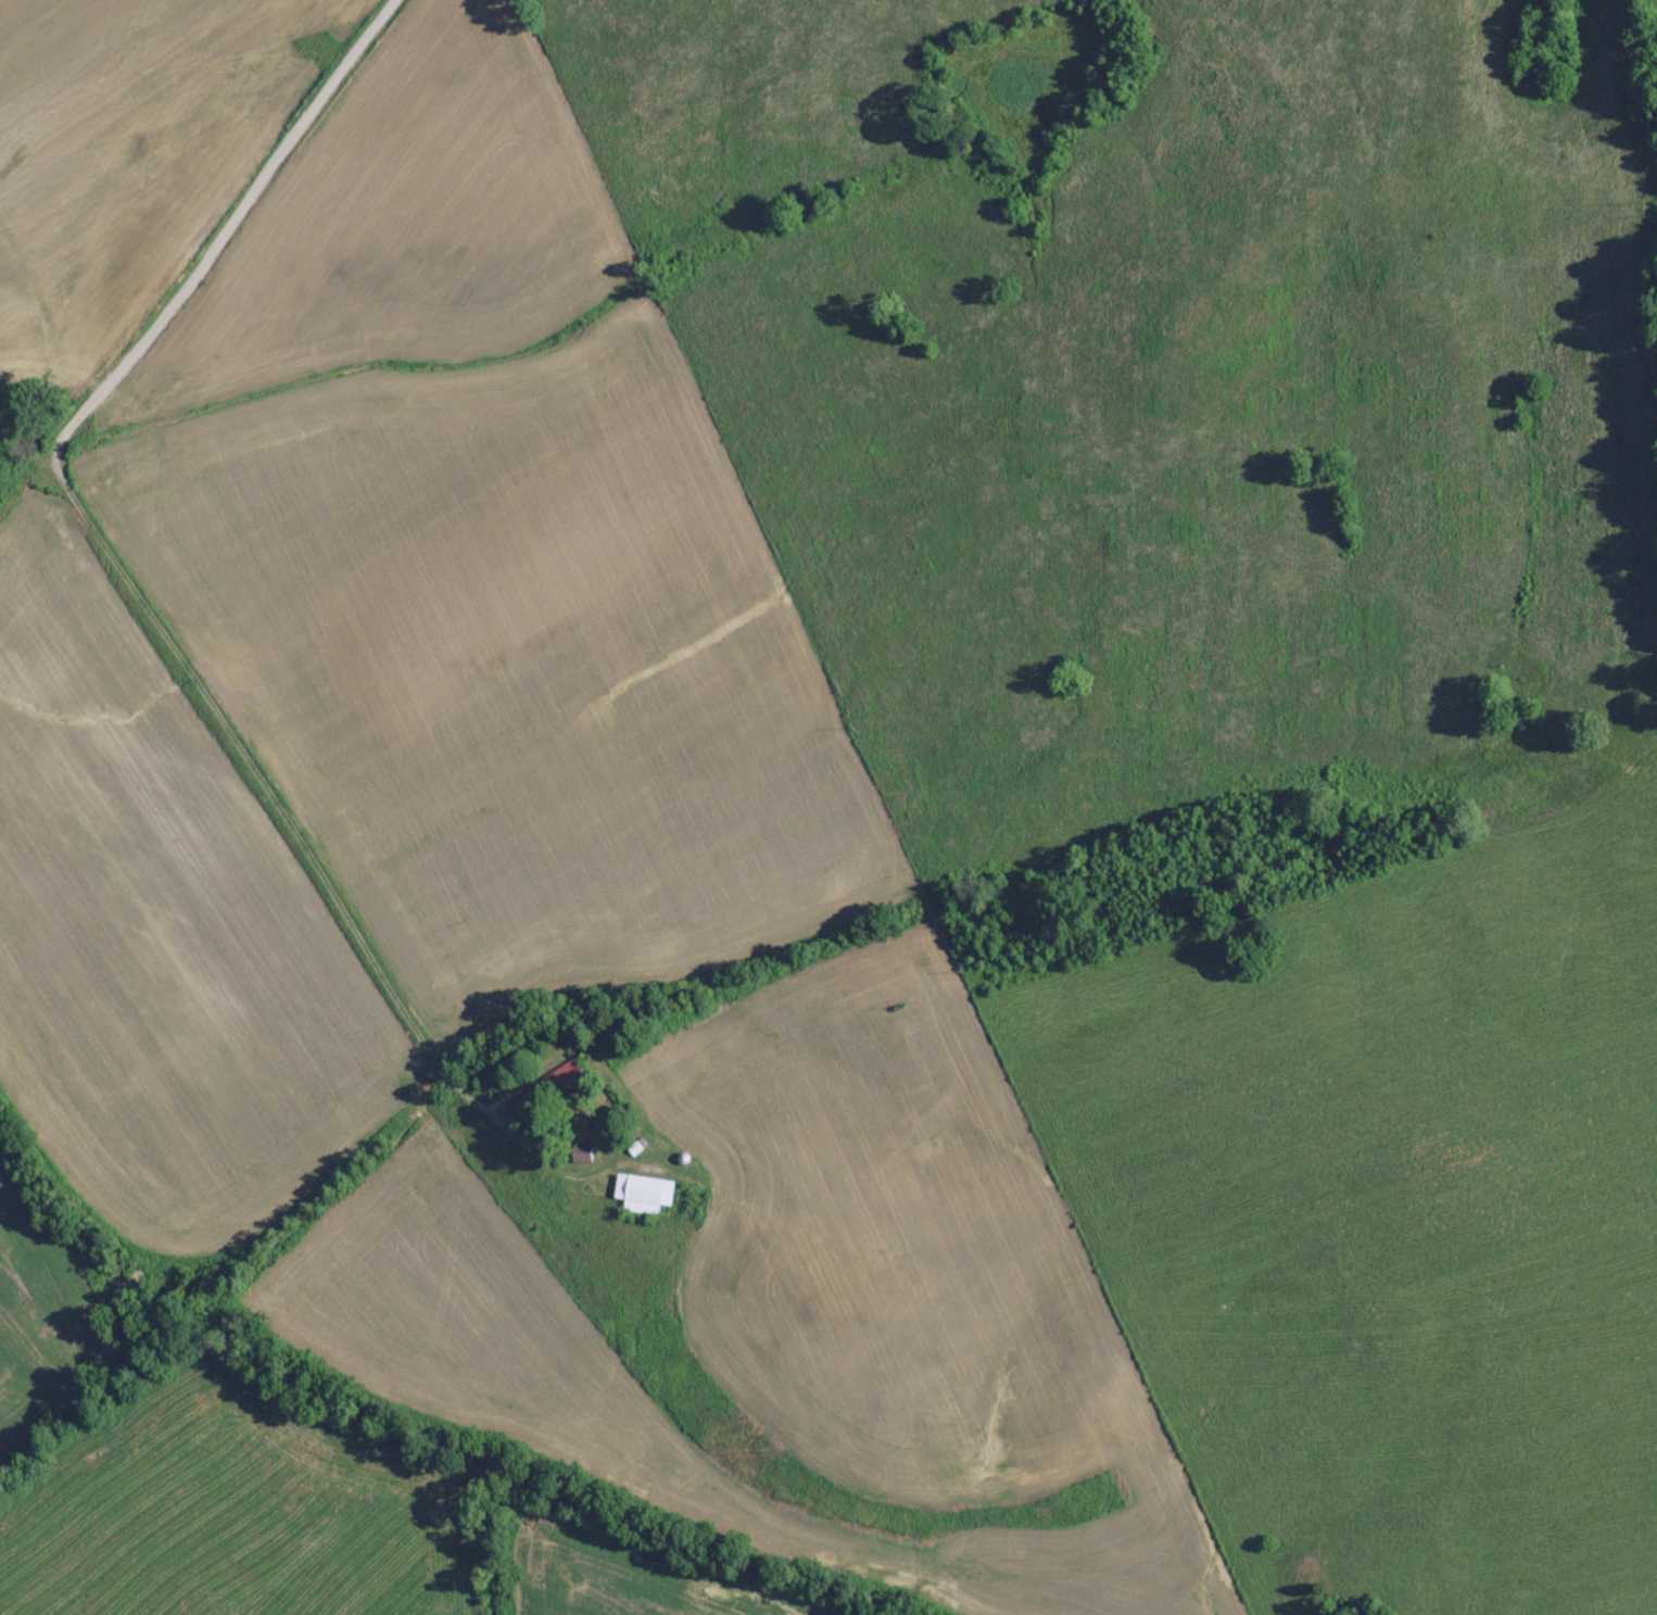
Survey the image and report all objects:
road: (228, 229)
road: (213, 762)
building: (568, 1077)
building: (648, 1193)

